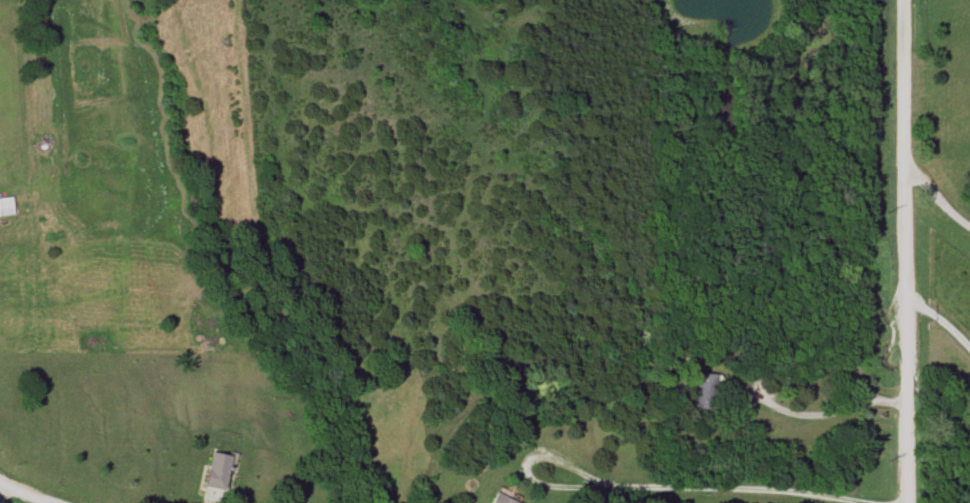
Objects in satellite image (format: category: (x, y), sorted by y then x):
road: (934, 192)
building: (5, 206)
road: (903, 251)
road: (939, 320)
road: (780, 382)
building: (702, 391)
road: (892, 398)
road: (525, 466)
building: (212, 470)
road: (748, 488)
road: (7, 490)
road: (31, 491)

